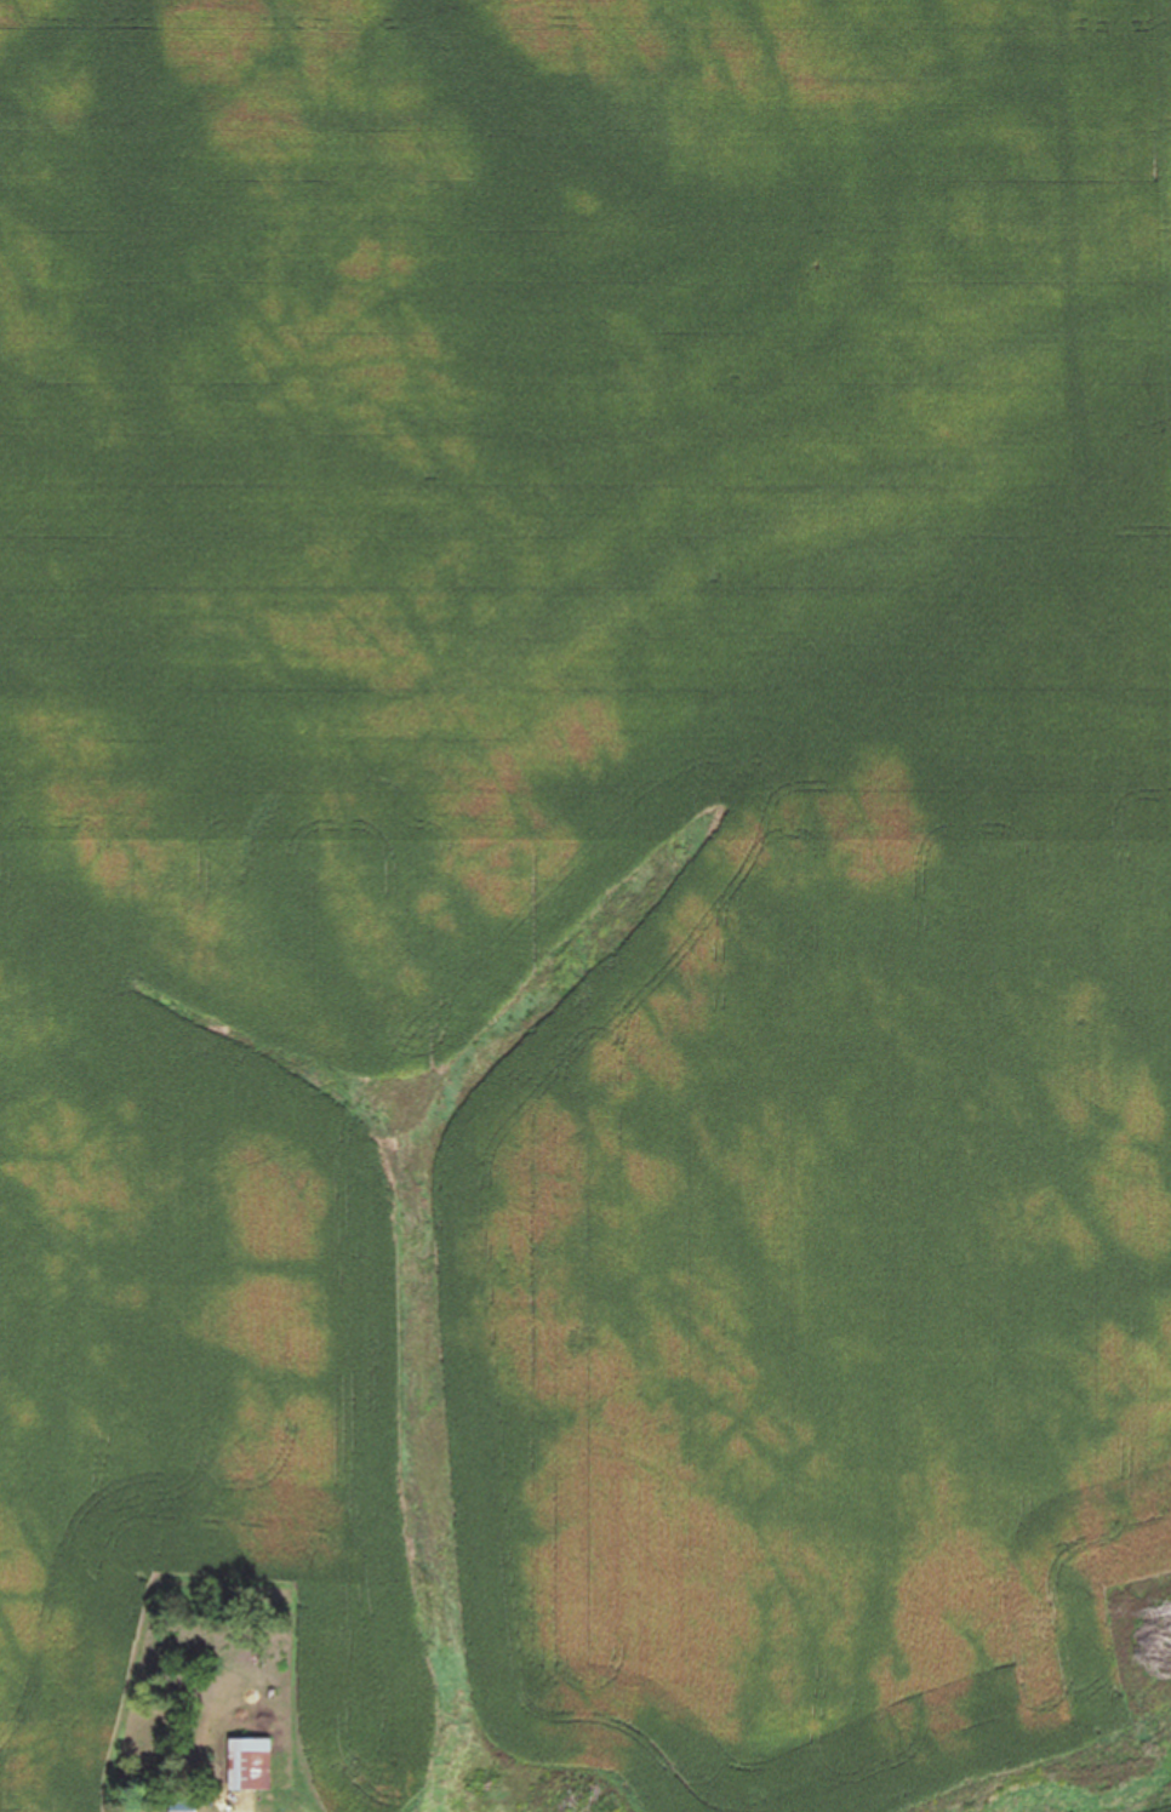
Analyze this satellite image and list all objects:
building: (247, 1764)
building: (182, 1806)

